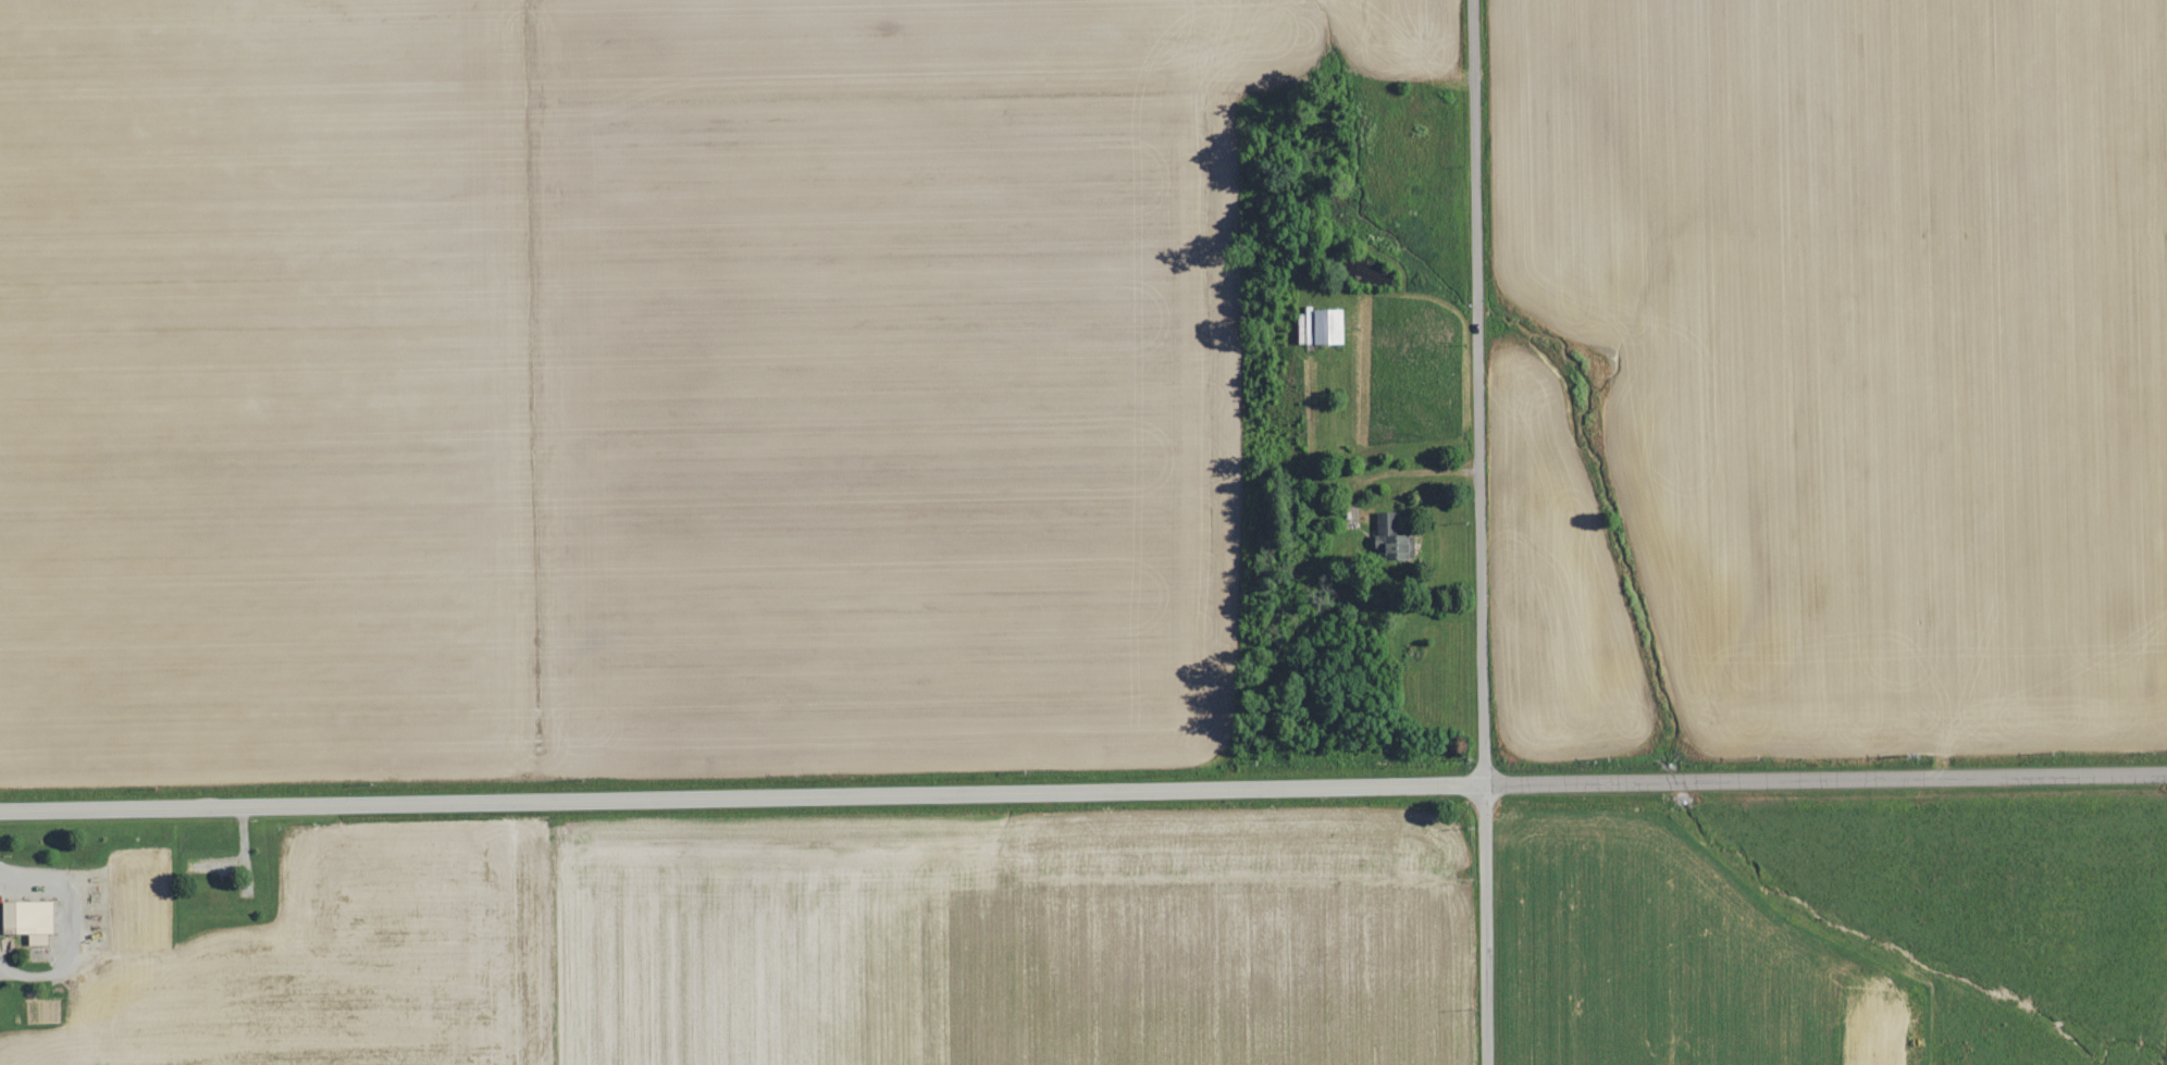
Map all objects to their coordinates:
building: (1327, 324)
road: (1474, 391)
building: (1380, 524)
road: (1082, 788)
building: (27, 918)
road: (1479, 924)

